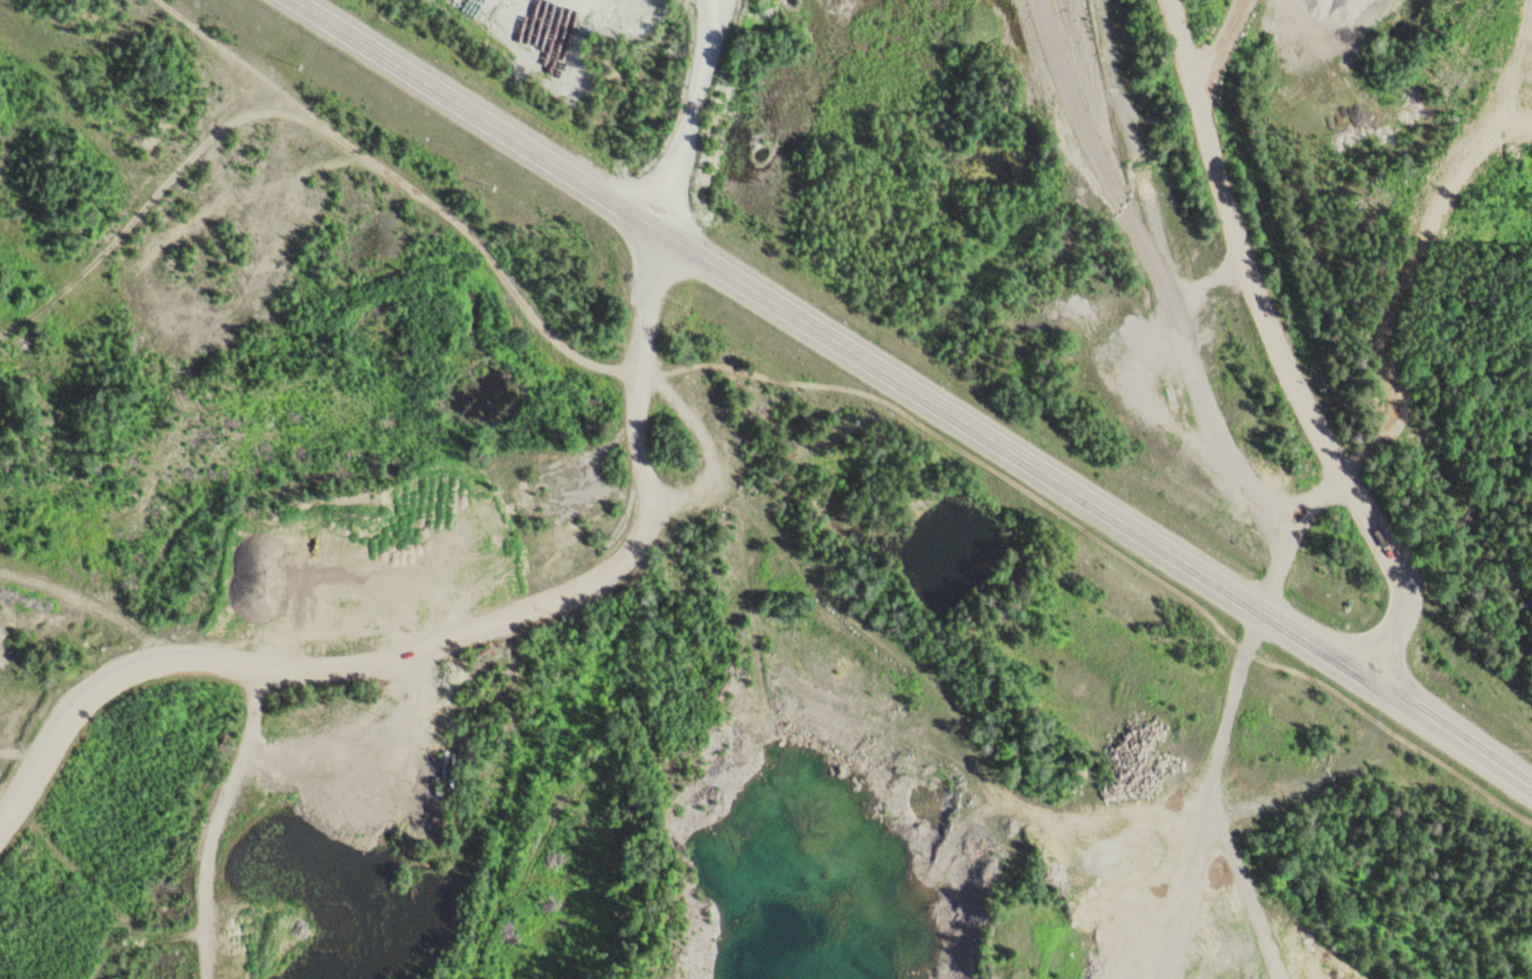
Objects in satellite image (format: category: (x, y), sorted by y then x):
road: (1211, 17)
road: (1298, 357)
road: (914, 386)
road: (452, 643)
building: (451, 768)
road: (221, 823)

